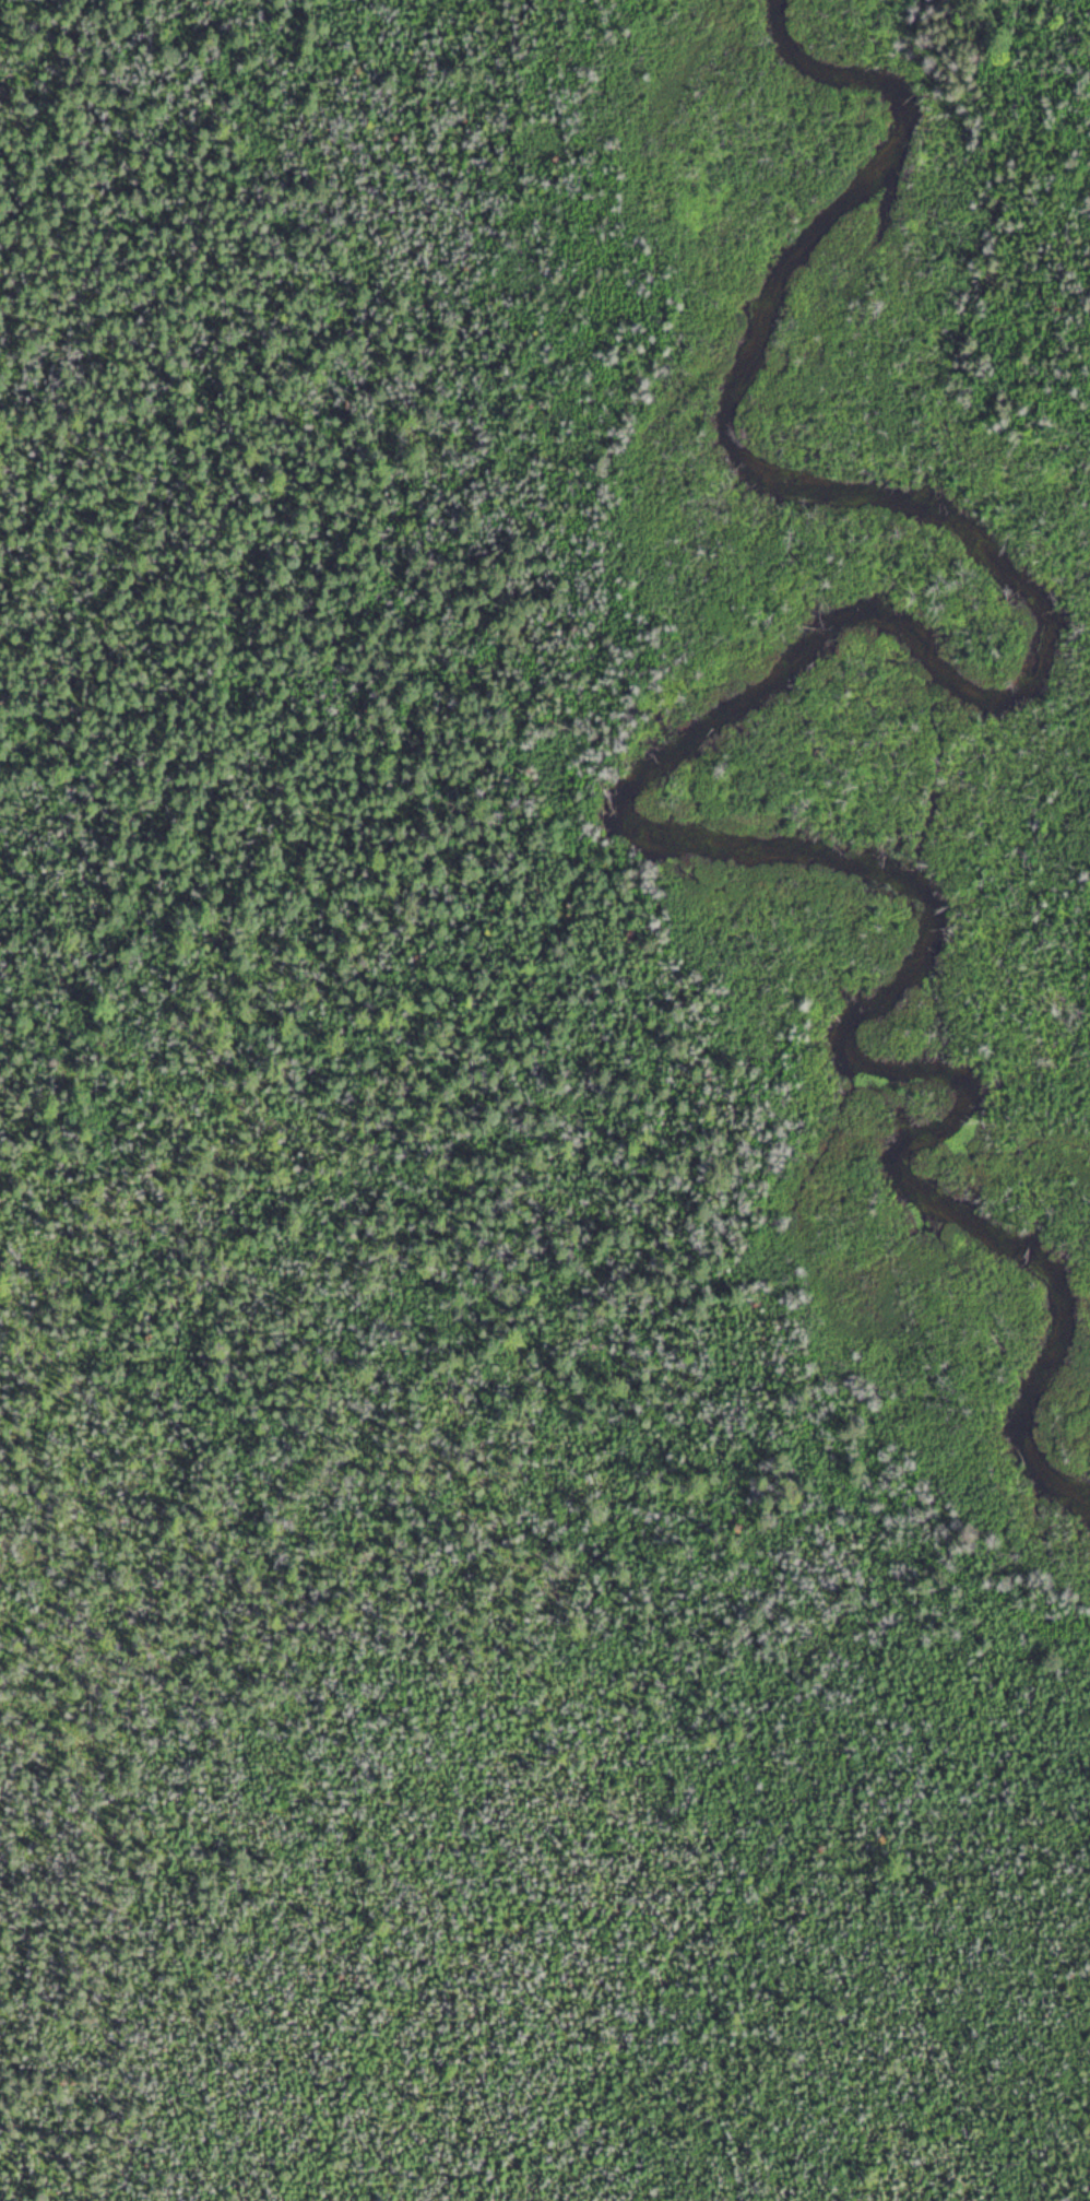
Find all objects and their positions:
river: (727, 716)

